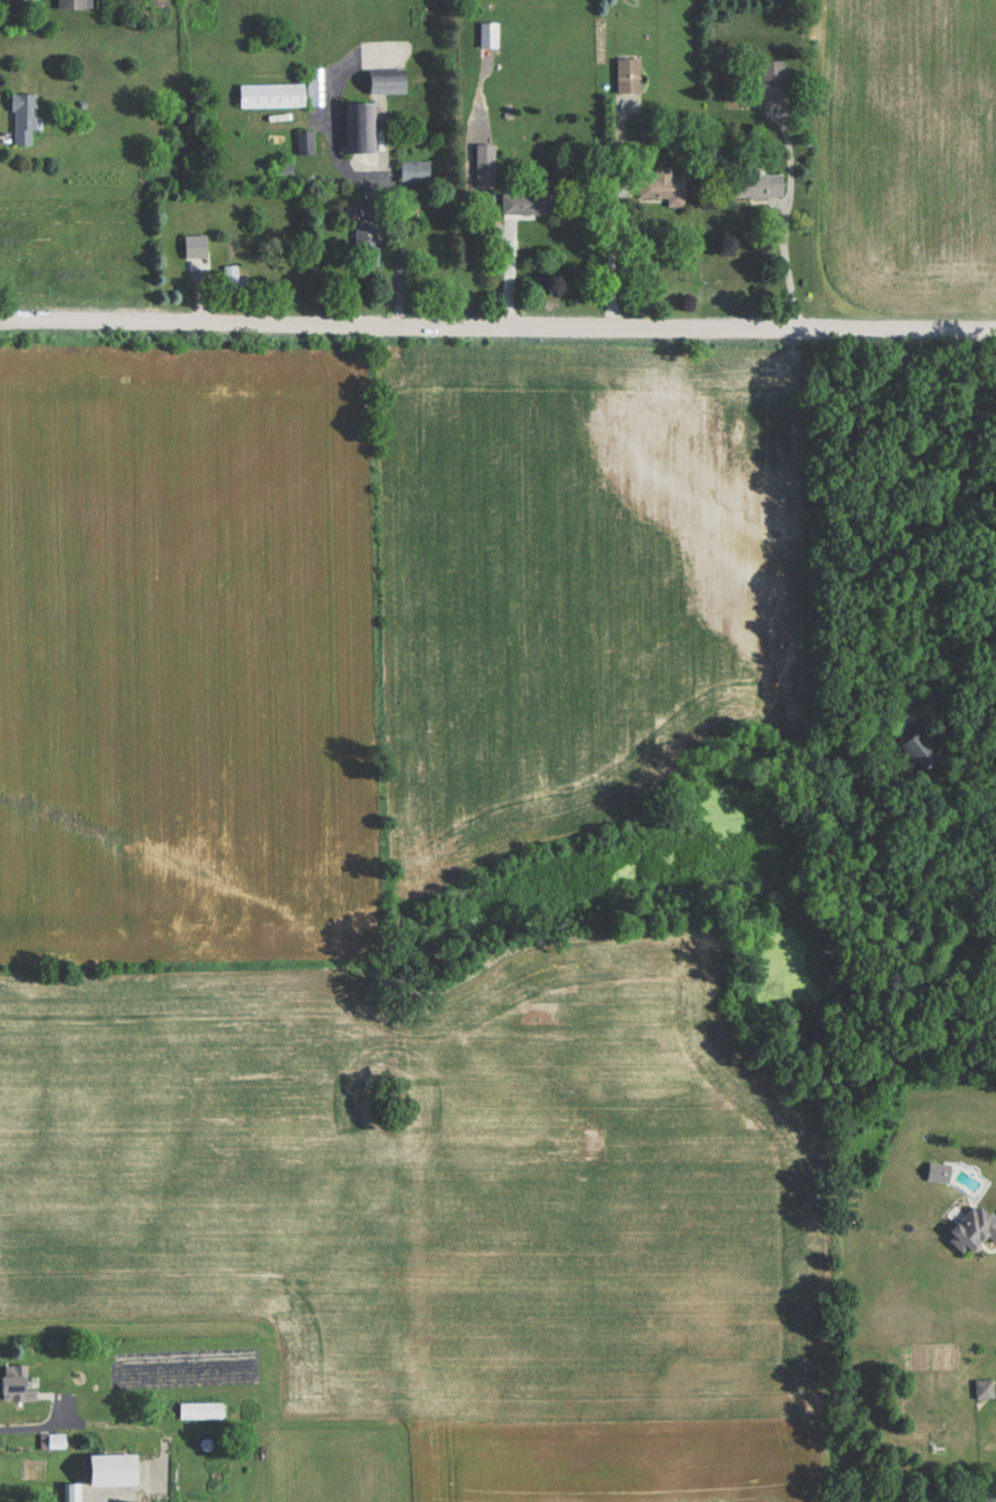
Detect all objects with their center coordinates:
building: (68, 4)
building: (769, 74)
building: (624, 75)
building: (381, 83)
building: (267, 95)
building: (19, 119)
building: (356, 127)
building: (481, 167)
building: (753, 185)
building: (659, 186)
road: (393, 195)
road: (614, 220)
building: (190, 246)
road: (784, 265)
road: (508, 273)
road: (498, 326)
road: (969, 634)
crop: (185, 653)
building: (919, 743)
building: (973, 1228)
road: (110, 1424)
building: (101, 1471)

